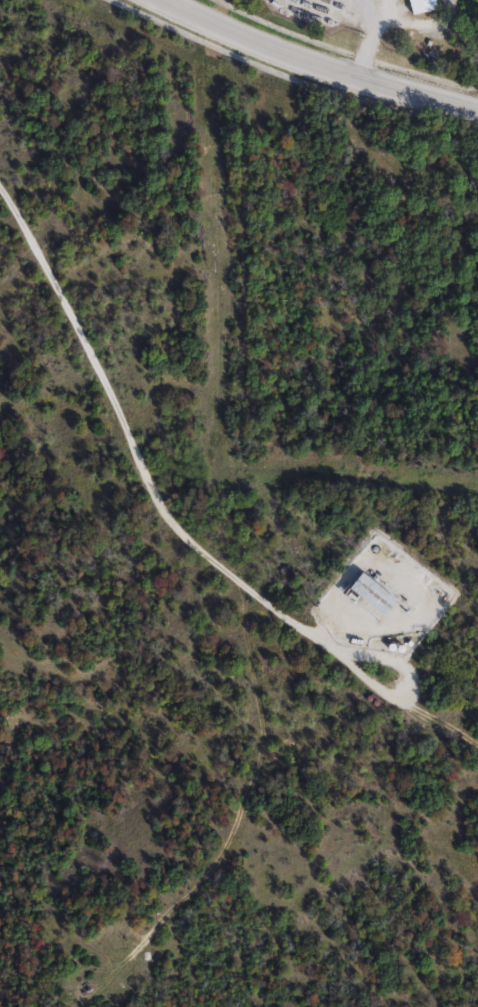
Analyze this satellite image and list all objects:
building: (426, 6)
road: (316, 65)
road: (134, 454)
building: (379, 594)
road: (405, 688)

